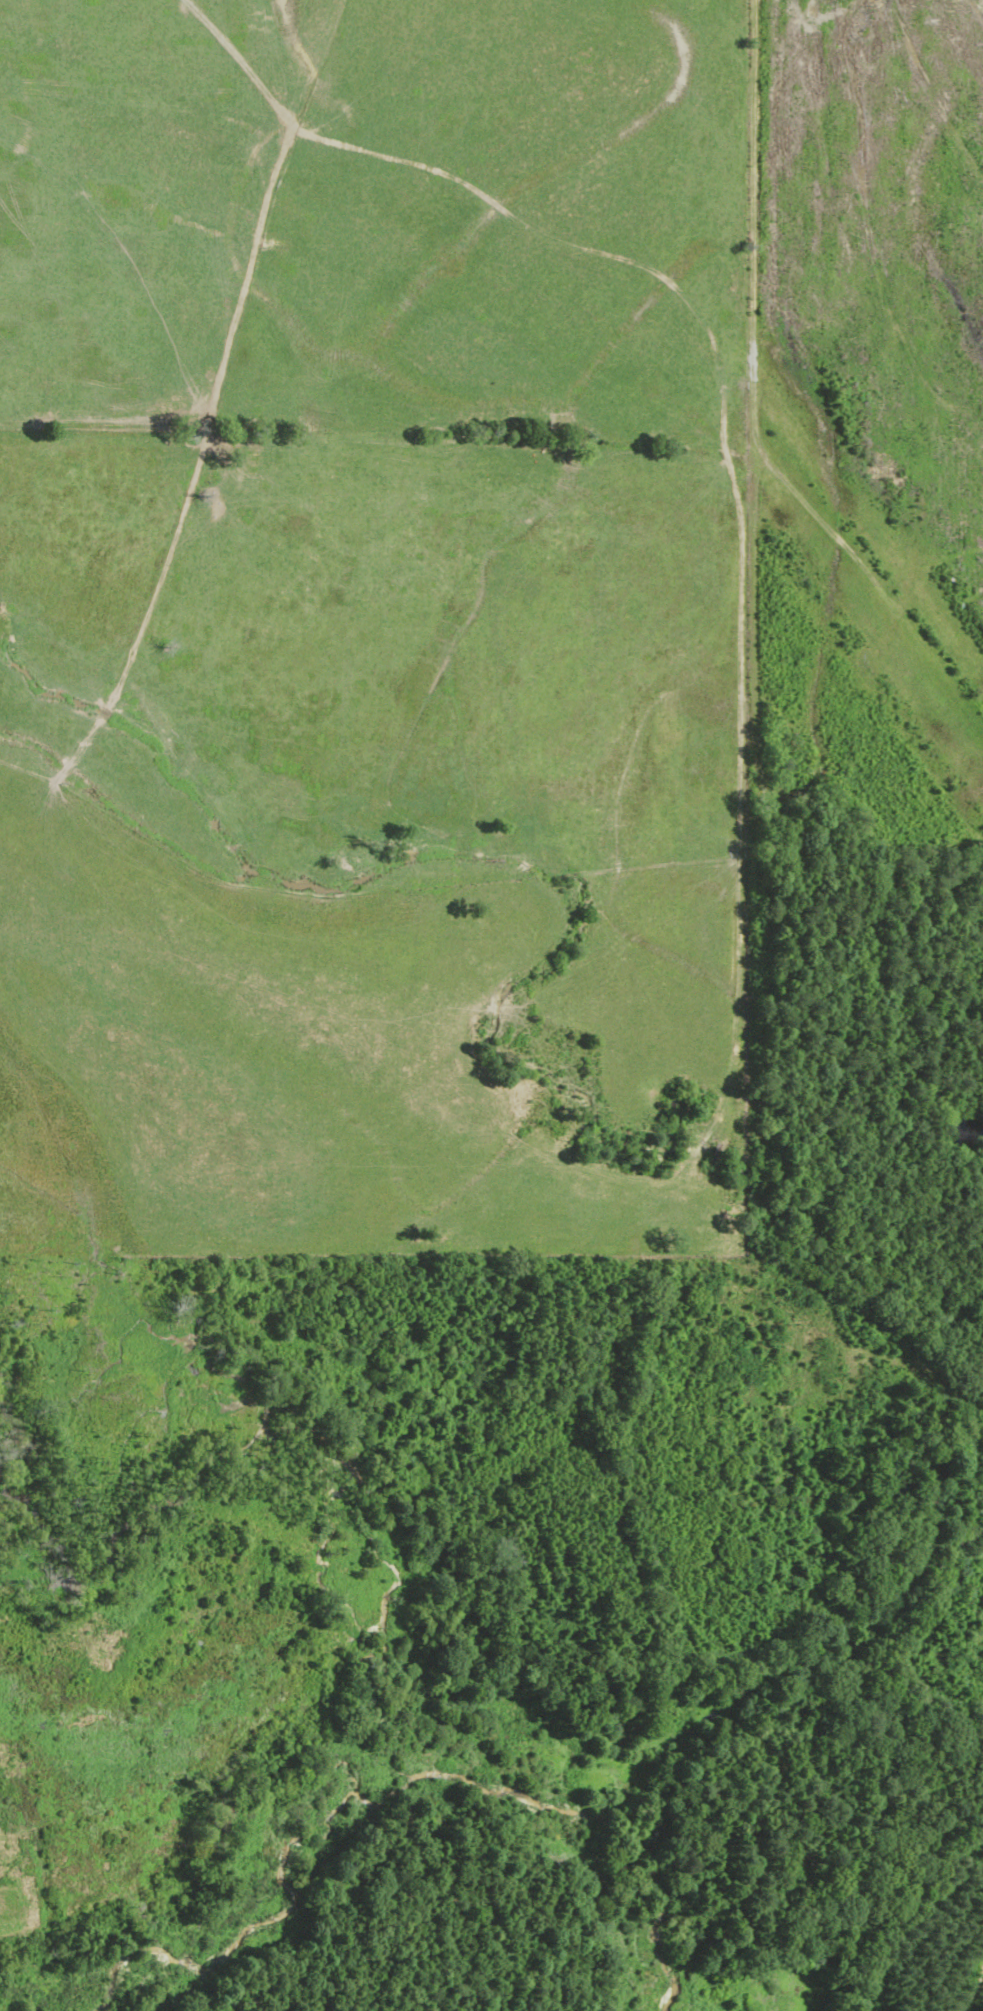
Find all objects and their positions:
building: (1, 1910)

